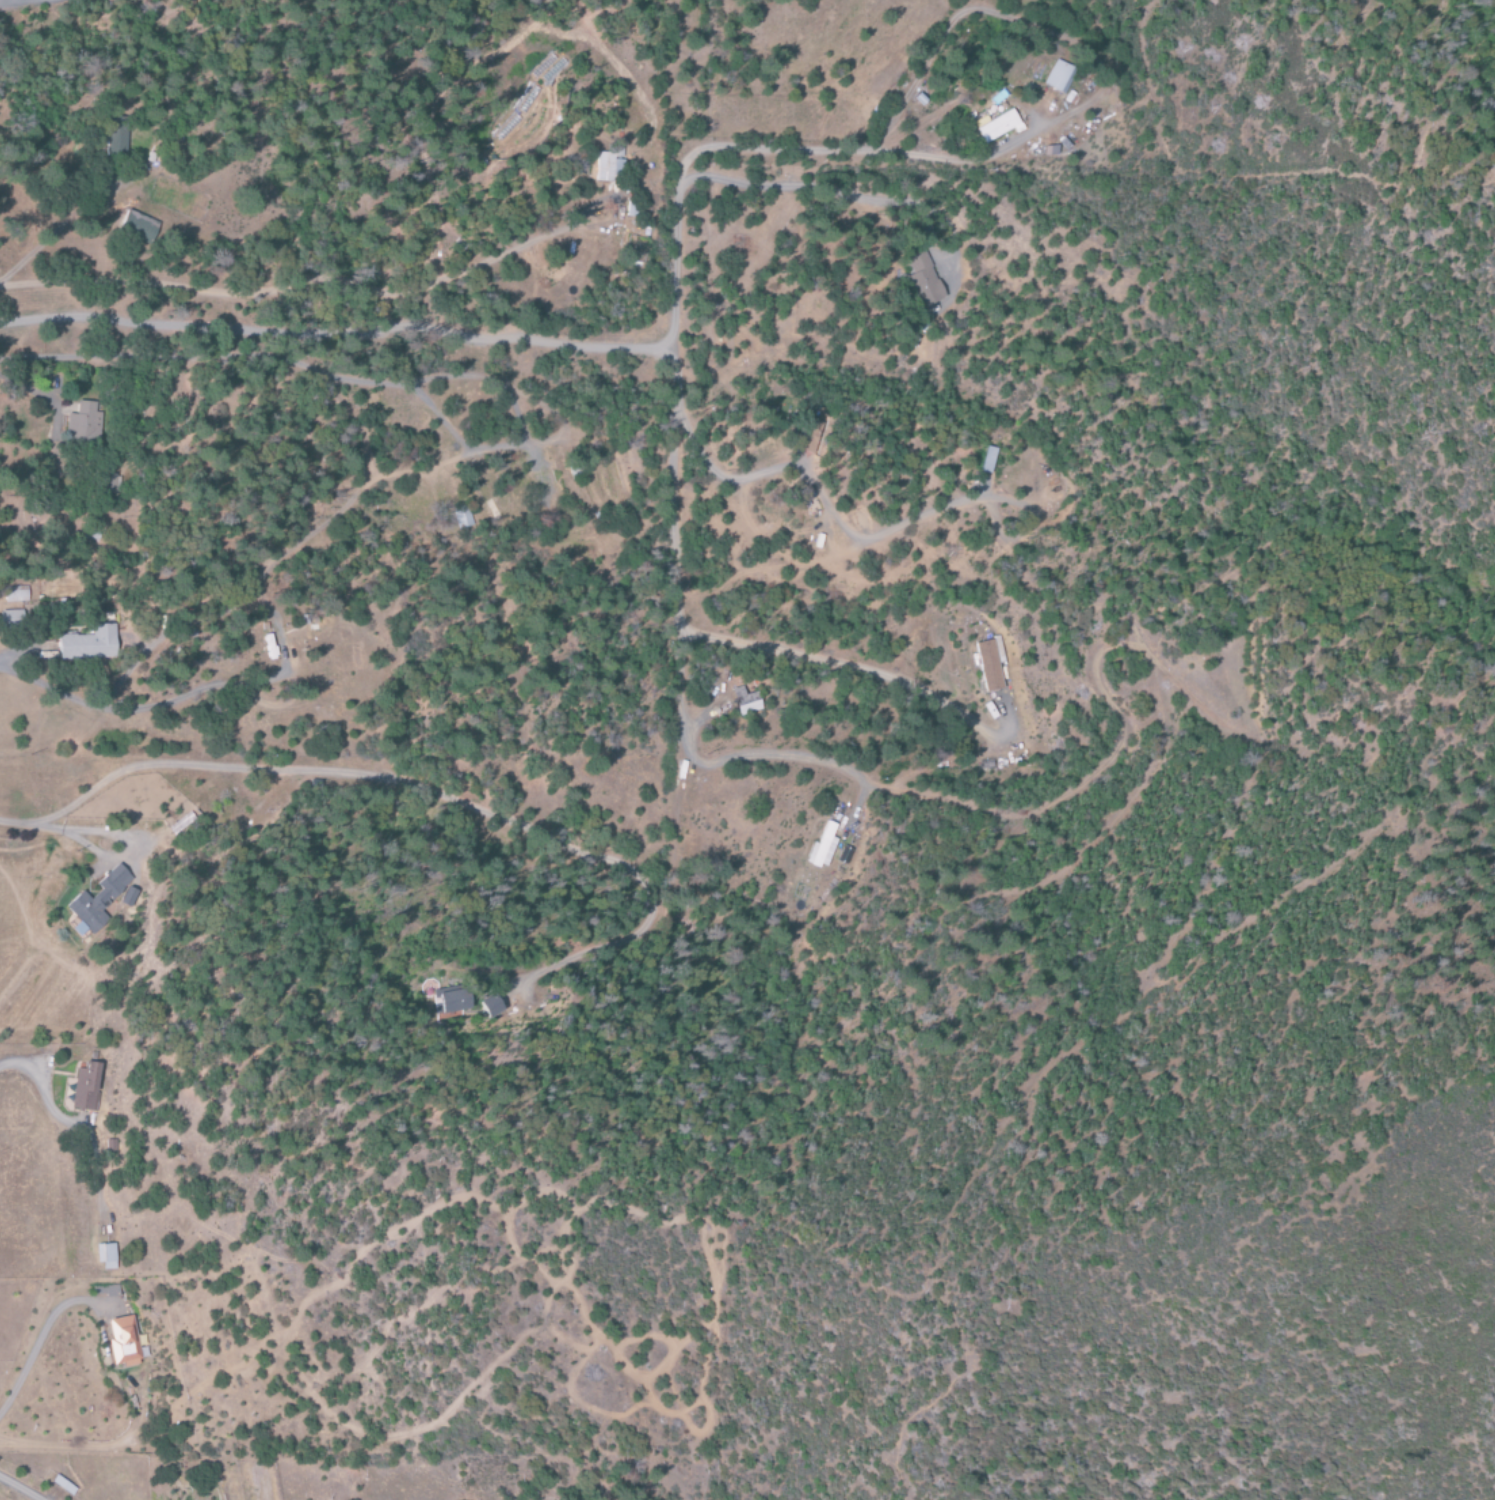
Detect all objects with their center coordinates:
building: (1057, 77)
building: (997, 126)
building: (116, 136)
building: (1050, 151)
building: (605, 164)
building: (137, 226)
building: (921, 280)
road: (338, 335)
road: (678, 420)
building: (83, 424)
building: (809, 436)
building: (986, 460)
building: (16, 595)
building: (10, 621)
building: (87, 645)
road: (173, 646)
building: (267, 648)
building: (999, 650)
road: (832, 666)
building: (988, 666)
building: (745, 702)
road: (774, 760)
road: (224, 824)
building: (821, 847)
building: (845, 855)
building: (99, 902)
building: (449, 1003)
building: (490, 1006)
building: (84, 1088)
building: (110, 1145)
building: (105, 1256)
building: (122, 1342)
road: (14, 1490)

